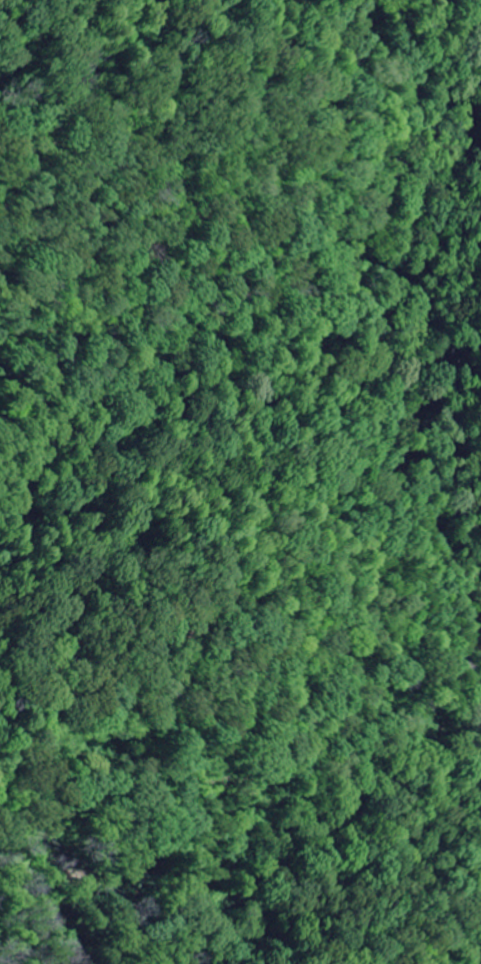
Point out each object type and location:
road: (416, 527)

